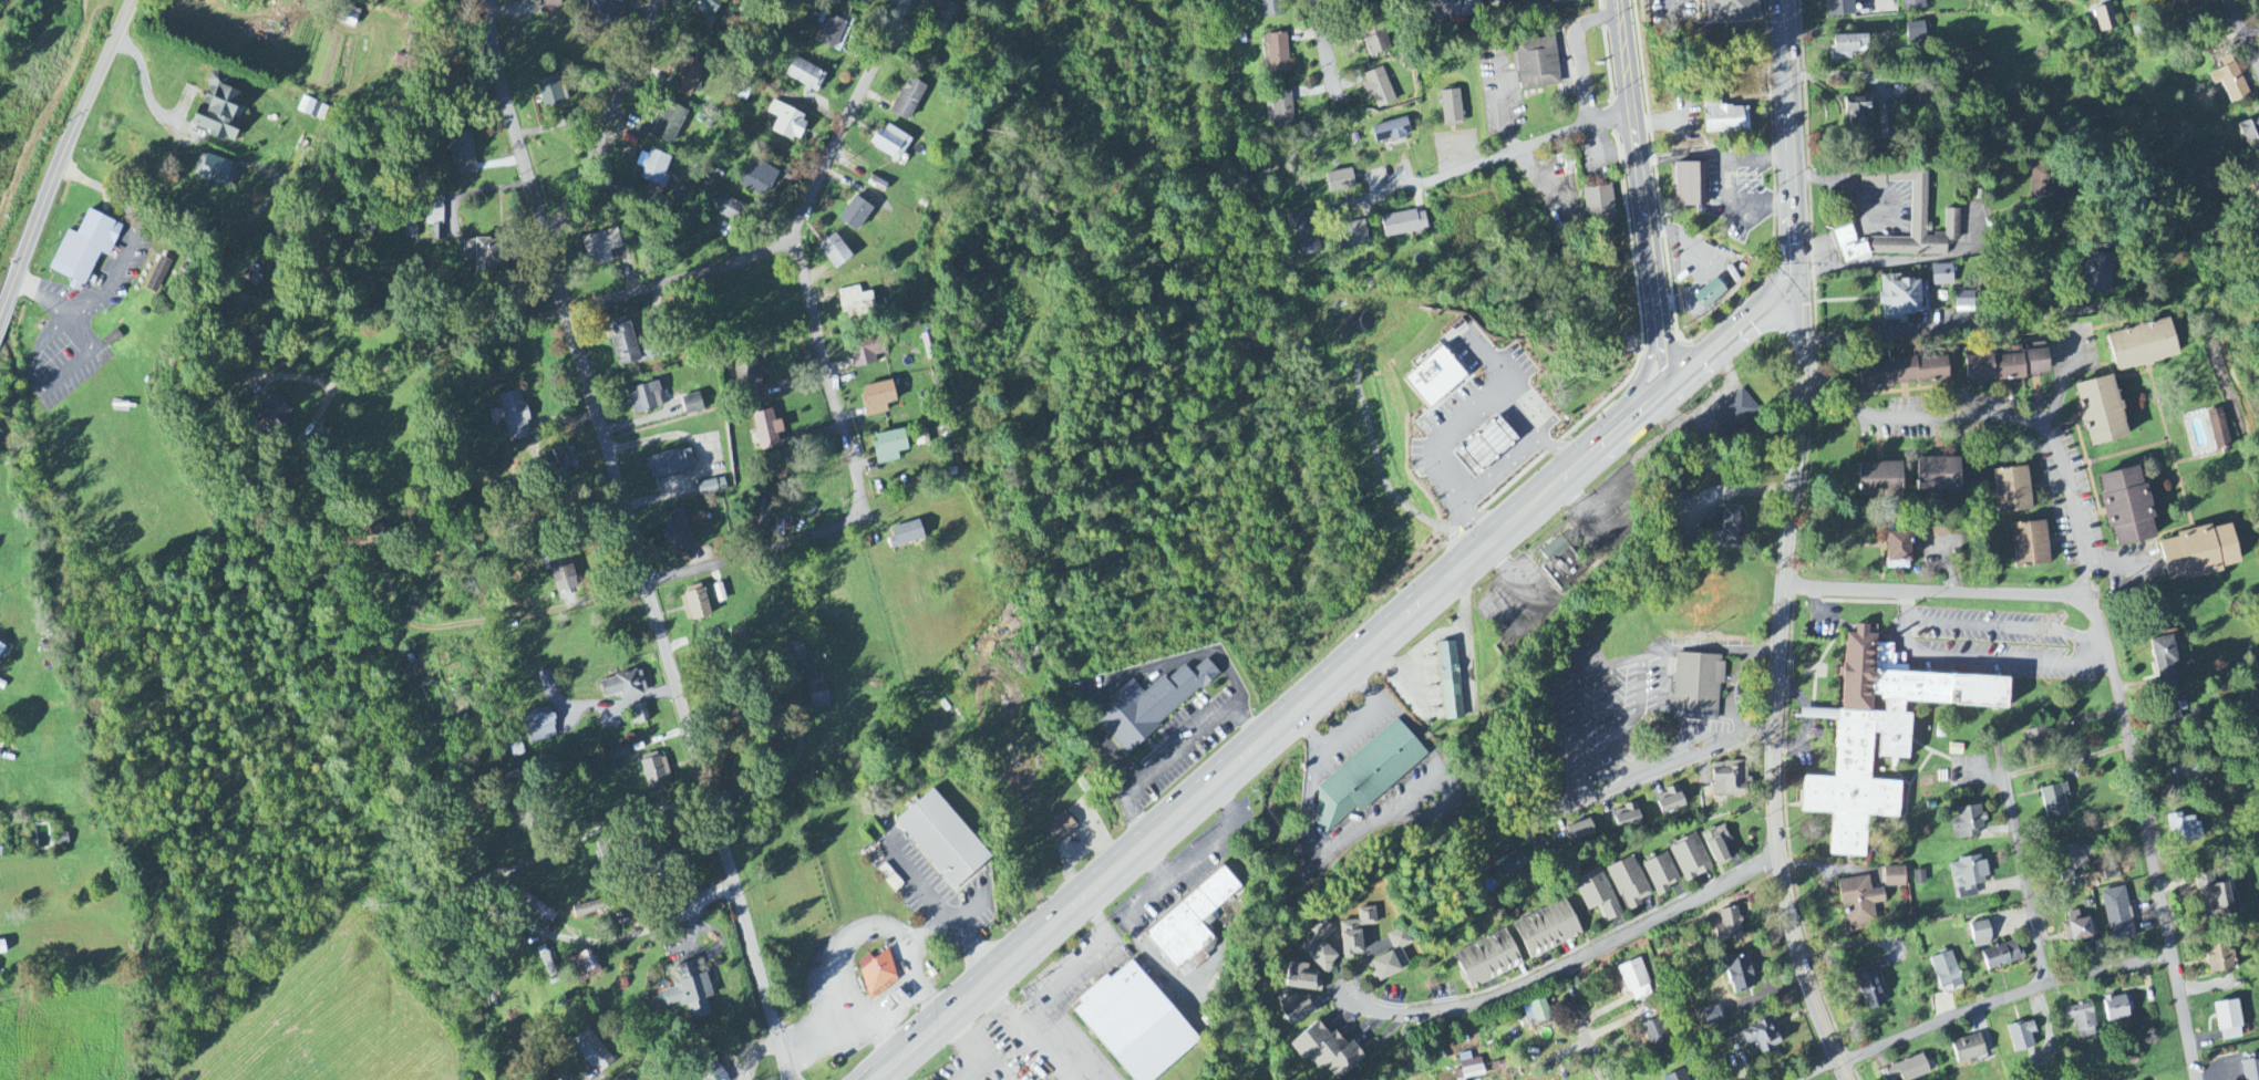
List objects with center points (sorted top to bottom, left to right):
building: (1504, 1)
building: (1565, 2)
building: (549, 3)
building: (1914, 6)
building: (1839, 8)
building: (709, 9)
building: (1271, 9)
building: (1453, 9)
building: (1729, 11)
building: (605, 14)
building: (945, 14)
building: (2105, 19)
building: (829, 32)
building: (1916, 34)
road: (2242, 37)
building: (1376, 41)
building: (1847, 46)
road: (1326, 51)
building: (1278, 55)
building: (1537, 65)
building: (805, 75)
building: (687, 77)
building: (2229, 80)
building: (1378, 87)
building: (549, 93)
road: (148, 97)
building: (908, 101)
building: (1452, 108)
building: (1857, 108)
building: (218, 111)
building: (312, 111)
building: (1282, 111)
building: (570, 120)
building: (1725, 120)
road: (512, 122)
road: (608, 122)
building: (787, 123)
building: (669, 124)
building: (2249, 131)
building: (1390, 132)
power tower: (41, 137)
building: (890, 143)
road: (1789, 152)
building: (462, 155)
road: (62, 157)
road: (1481, 163)
building: (656, 170)
building: (216, 173)
building: (759, 180)
building: (1340, 181)
building: (2258, 183)
building: (2039, 184)
building: (1691, 185)
road: (1643, 189)
building: (1598, 204)
building: (724, 208)
building: (855, 216)
building: (434, 218)
building: (1404, 225)
road: (220, 227)
building: (411, 227)
building: (1922, 230)
building: (1307, 233)
building: (1353, 233)
building: (1850, 247)
building: (600, 248)
road: (797, 249)
building: (84, 250)
building: (834, 252)
building: (481, 256)
road: (1778, 257)
road: (125, 258)
building: (2101, 273)
road: (682, 276)
building: (1942, 276)
building: (157, 277)
building: (1710, 295)
building: (1902, 300)
building: (1964, 302)
building: (855, 303)
traffic signals: (1798, 304)
road: (2008, 323)
road: (1733, 331)
road: (1869, 331)
road: (462, 340)
building: (623, 344)
building: (2142, 346)
building: (929, 347)
road: (1652, 350)
building: (866, 352)
road: (391, 364)
building: (2008, 365)
building: (1901, 373)
building: (746, 377)
building: (1433, 378)
road: (2064, 381)
building: (644, 399)
building: (877, 399)
building: (691, 406)
building: (2101, 412)
building: (272, 414)
building: (1735, 414)
building: (514, 417)
road: (2005, 419)
building: (2218, 429)
building: (766, 430)
building: (889, 447)
building: (1484, 447)
building: (558, 463)
building: (670, 464)
building: (1937, 477)
building: (1879, 478)
building: (710, 488)
road: (1724, 489)
building: (2011, 491)
building: (2126, 508)
building: (1727, 527)
building: (677, 532)
building: (906, 536)
building: (364, 540)
building: (2029, 544)
building: (1897, 550)
building: (2198, 553)
road: (2118, 563)
building: (1561, 564)
building: (558, 569)
road: (651, 581)
road: (1958, 592)
building: (695, 604)
road: (1987, 626)
road: (2098, 645)
building: (1, 650)
road: (1989, 660)
road: (668, 661)
building: (2165, 661)
building: (545, 681)
building: (1451, 682)
building: (1698, 685)
building: (625, 686)
building: (816, 693)
road: (1776, 696)
road: (618, 702)
building: (1152, 705)
building: (2174, 713)
building: (638, 715)
road: (1349, 725)
building: (538, 727)
road: (1275, 727)
building: (1879, 735)
building: (2034, 736)
road: (1175, 750)
building: (619, 754)
road: (791, 770)
building: (656, 771)
road: (1653, 773)
building: (1365, 777)
building: (1731, 780)
building: (2054, 800)
building: (1668, 801)
road: (672, 807)
building: (2226, 812)
building: (1626, 818)
building: (1967, 823)
building: (1060, 829)
building: (2184, 829)
building: (1579, 831)
building: (1559, 833)
building: (63, 840)
building: (942, 840)
building: (1716, 844)
road: (1200, 847)
building: (1690, 859)
building: (2074, 860)
road: (2153, 861)
road: (2021, 863)
building: (1512, 864)
building: (1661, 874)
building: (1968, 876)
building: (1895, 877)
building: (1919, 879)
building: (1629, 883)
building: (1598, 894)
building: (2216, 897)
road: (687, 901)
building: (1859, 902)
building: (2117, 914)
building: (1192, 925)
building: (1729, 926)
building: (2077, 927)
road: (957, 931)
building: (1547, 931)
road: (537, 932)
road: (1134, 932)
road: (852, 933)
building: (1354, 933)
building: (1981, 935)
building: (1317, 947)
building: (2, 948)
building: (2002, 956)
building: (1392, 957)
building: (2219, 957)
building: (1487, 960)
road: (1569, 965)
building: (582, 967)
building: (878, 974)
road: (1074, 974)
building: (1740, 974)
building: (1947, 974)
building: (1301, 978)
building: (1636, 982)
building: (1870, 986)
building: (690, 991)
road: (2002, 1001)
building: (1296, 1008)
building: (2116, 1008)
building: (1539, 1011)
road: (998, 1014)
building: (2082, 1021)
building: (2228, 1021)
building: (1134, 1025)
building: (1761, 1036)
building: (1657, 1037)
building: (2021, 1037)
road: (978, 1048)
building: (1968, 1049)
building: (591, 1051)
building: (1324, 1051)
road: (1041, 1053)
road: (1593, 1059)
building: (1471, 1067)
building: (1906, 1070)
building: (2250, 1070)
road: (1818, 1071)
building: (711, 1072)
building: (632, 1076)
building: (1677, 1077)

